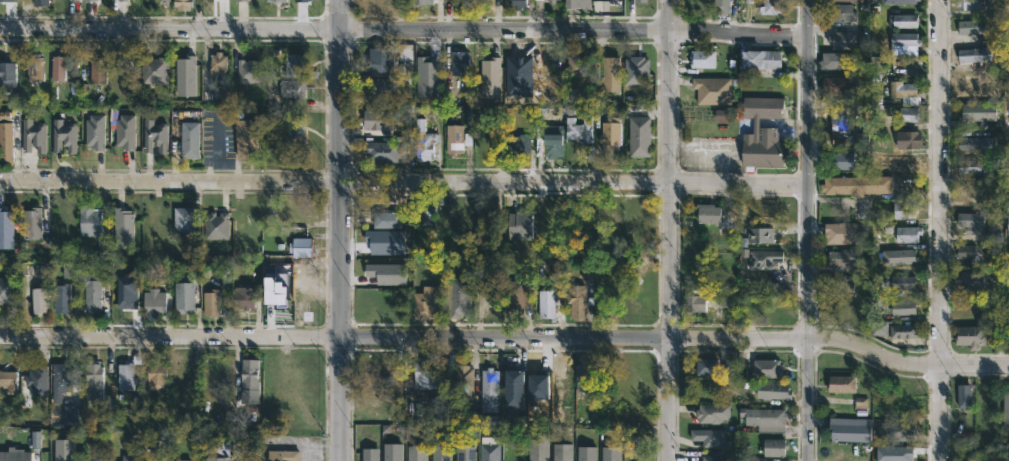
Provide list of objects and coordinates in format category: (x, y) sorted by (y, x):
building: (95, 0)
building: (129, 0)
building: (163, 0)
building: (303, 0)
building: (480, 0)
building: (838, 0)
building: (240, 1)
building: (274, 1)
building: (905, 1)
building: (417, 2)
building: (550, 2)
building: (638, 2)
building: (37, 3)
building: (460, 3)
building: (181, 4)
building: (515, 4)
building: (577, 5)
building: (970, 5)
building: (721, 6)
building: (771, 7)
building: (1008, 7)
building: (838, 14)
building: (905, 21)
building: (970, 27)
road: (405, 29)
building: (903, 38)
building: (863, 39)
building: (843, 40)
building: (970, 55)
building: (760, 58)
building: (703, 59)
building: (1008, 59)
building: (837, 61)
building: (459, 62)
building: (217, 63)
building: (294, 64)
building: (376, 64)
building: (875, 64)
building: (576, 65)
building: (61, 67)
building: (33, 68)
building: (431, 68)
building: (635, 68)
building: (97, 69)
building: (154, 70)
building: (184, 71)
building: (247, 71)
building: (7, 74)
building: (610, 74)
building: (518, 75)
building: (491, 76)
building: (838, 84)
building: (291, 89)
building: (712, 89)
building: (905, 92)
building: (381, 95)
building: (979, 111)
building: (725, 114)
building: (908, 115)
building: (377, 119)
building: (579, 130)
building: (94, 132)
building: (124, 132)
building: (762, 133)
building: (610, 135)
building: (33, 136)
building: (62, 137)
building: (153, 137)
building: (638, 137)
building: (245, 138)
building: (296, 138)
building: (453, 138)
building: (188, 140)
building: (907, 140)
building: (423, 141)
building: (518, 141)
building: (5, 142)
building: (551, 142)
building: (970, 143)
building: (383, 152)
building: (841, 160)
building: (893, 165)
building: (970, 166)
road: (404, 181)
building: (856, 186)
building: (971, 193)
building: (1006, 204)
building: (904, 210)
building: (720, 218)
building: (183, 219)
building: (385, 219)
building: (88, 220)
building: (30, 223)
building: (120, 223)
building: (519, 223)
building: (488, 224)
building: (215, 225)
building: (6, 227)
building: (977, 227)
road: (341, 230)
road: (668, 230)
road: (809, 230)
road: (942, 230)
building: (841, 232)
building: (905, 232)
building: (759, 234)
building: (387, 241)
building: (300, 246)
building: (966, 252)
building: (900, 257)
building: (763, 258)
building: (839, 260)
building: (388, 273)
building: (970, 279)
building: (903, 282)
building: (839, 283)
building: (7, 290)
building: (93, 292)
building: (605, 294)
building: (635, 295)
building: (243, 296)
building: (456, 296)
building: (60, 297)
building: (183, 297)
building: (515, 297)
building: (39, 299)
building: (153, 300)
building: (211, 301)
building: (577, 301)
building: (426, 302)
building: (694, 302)
building: (546, 303)
building: (904, 306)
building: (977, 310)
building: (880, 328)
building: (904, 331)
building: (970, 336)
road: (506, 339)
building: (375, 361)
building: (706, 366)
building: (767, 368)
building: (425, 373)
building: (155, 375)
building: (60, 376)
building: (124, 376)
building: (583, 376)
building: (7, 380)
building: (36, 380)
building: (92, 380)
building: (248, 380)
building: (464, 383)
building: (562, 383)
building: (841, 383)
building: (540, 386)
building: (513, 387)
building: (489, 390)
building: (773, 390)
building: (964, 396)
building: (1006, 409)
building: (377, 413)
building: (712, 413)
building: (771, 420)
building: (849, 428)
building: (895, 431)
building: (709, 437)
building: (774, 446)
building: (538, 448)
building: (61, 449)
building: (488, 451)
building: (217, 452)
building: (392, 452)
building: (561, 452)
building: (417, 453)
building: (441, 453)
building: (465, 453)
building: (586, 453)
building: (903, 453)
building: (610, 454)
building: (14, 455)
building: (282, 455)
building: (369, 455)
building: (129, 457)
building: (720, 457)
building: (182, 460)

